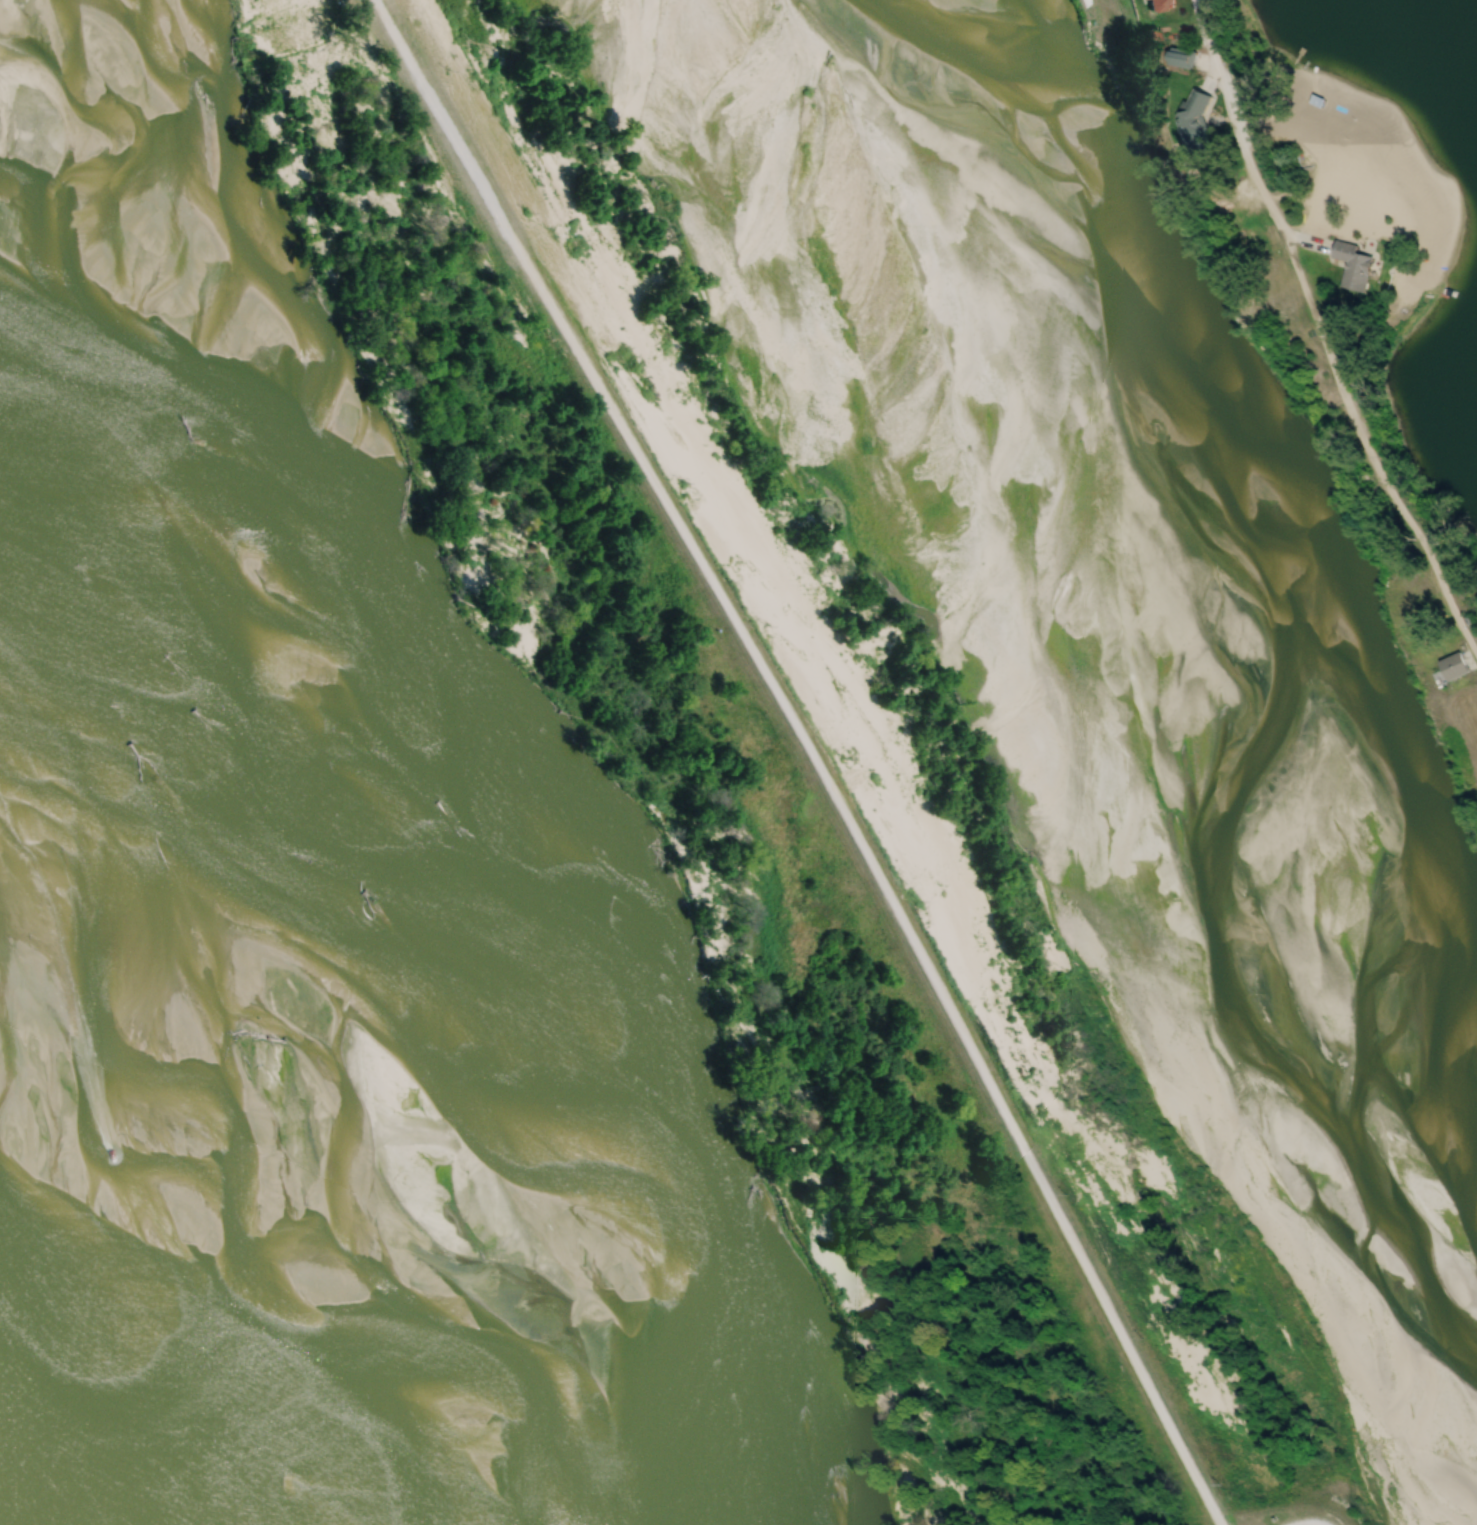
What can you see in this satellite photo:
building: (1197, 109)
building: (1355, 266)
road: (1323, 334)
river: (1151, 607)
building: (1453, 670)
road: (813, 754)
river: (229, 947)
road: (1311, 1520)

